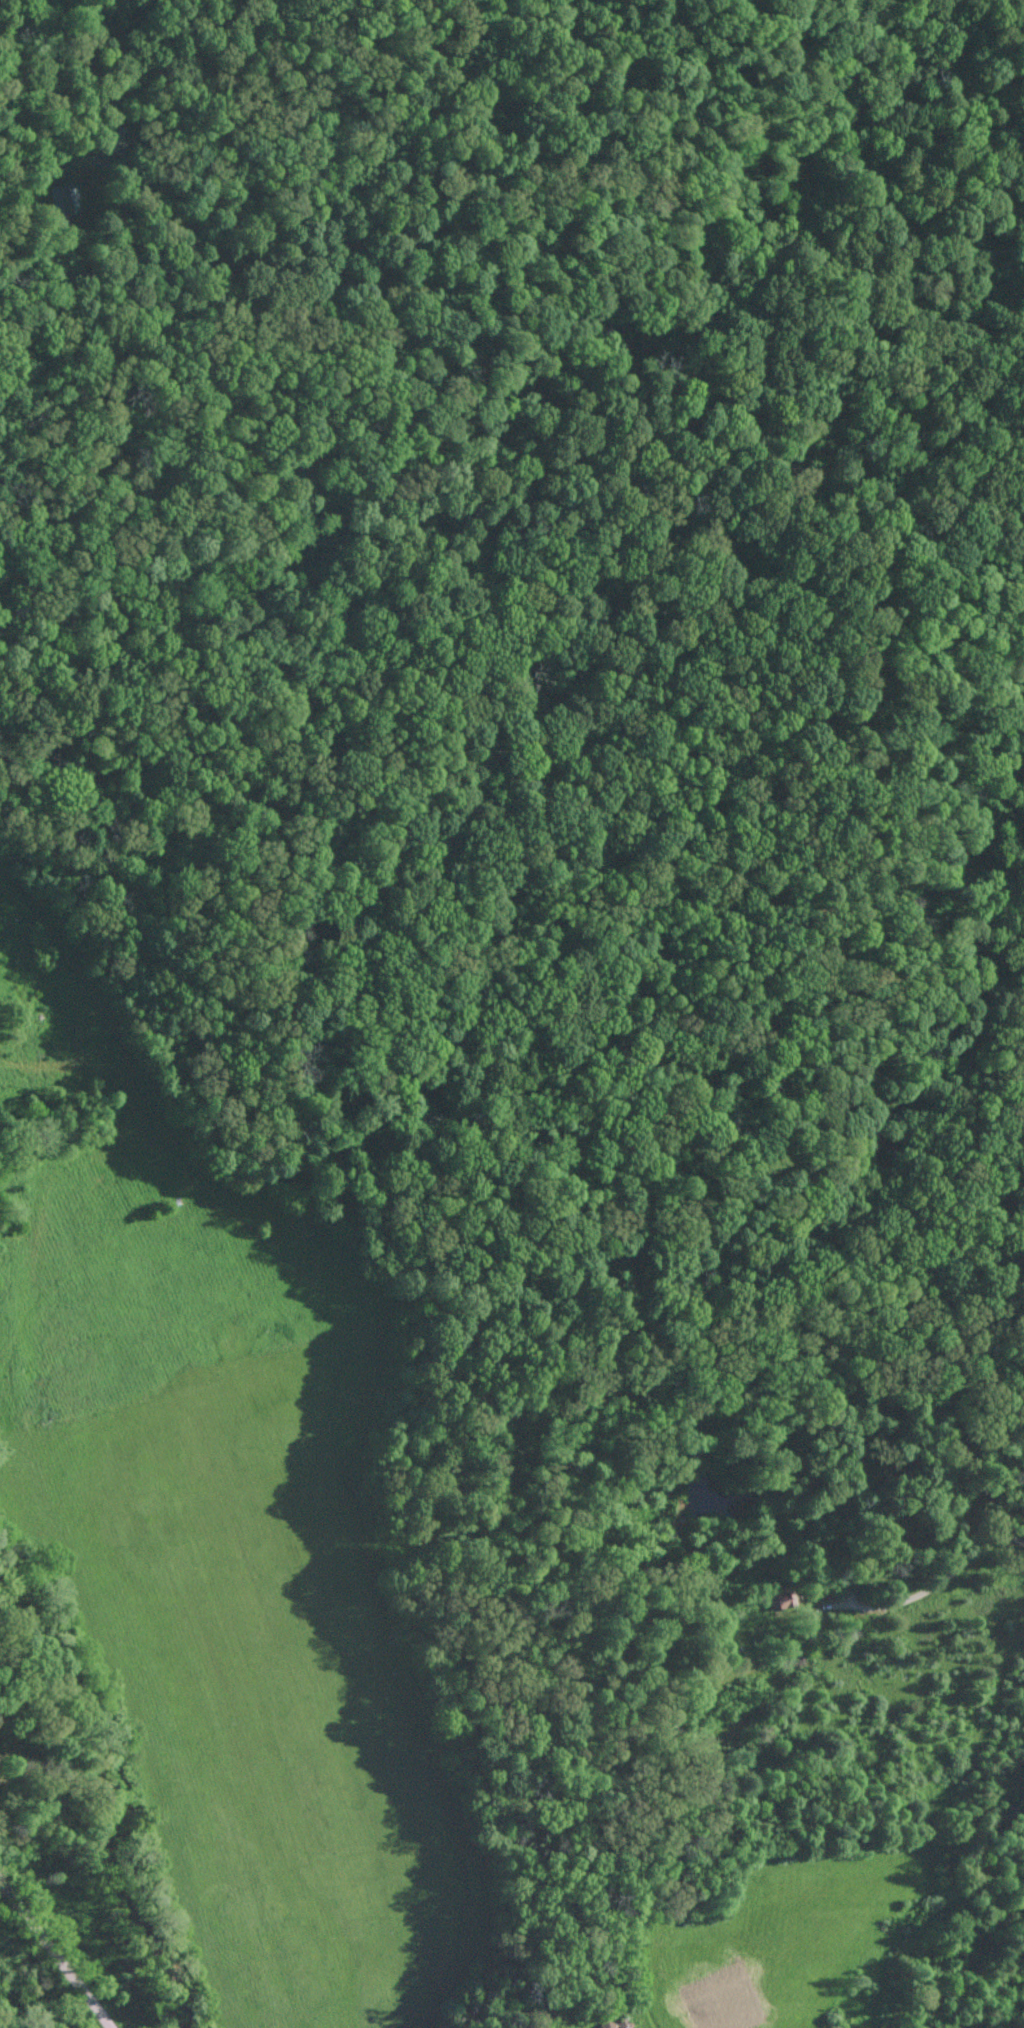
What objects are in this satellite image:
road: (1, 137)
road: (42, 172)
building: (62, 197)
road: (55, 1947)

